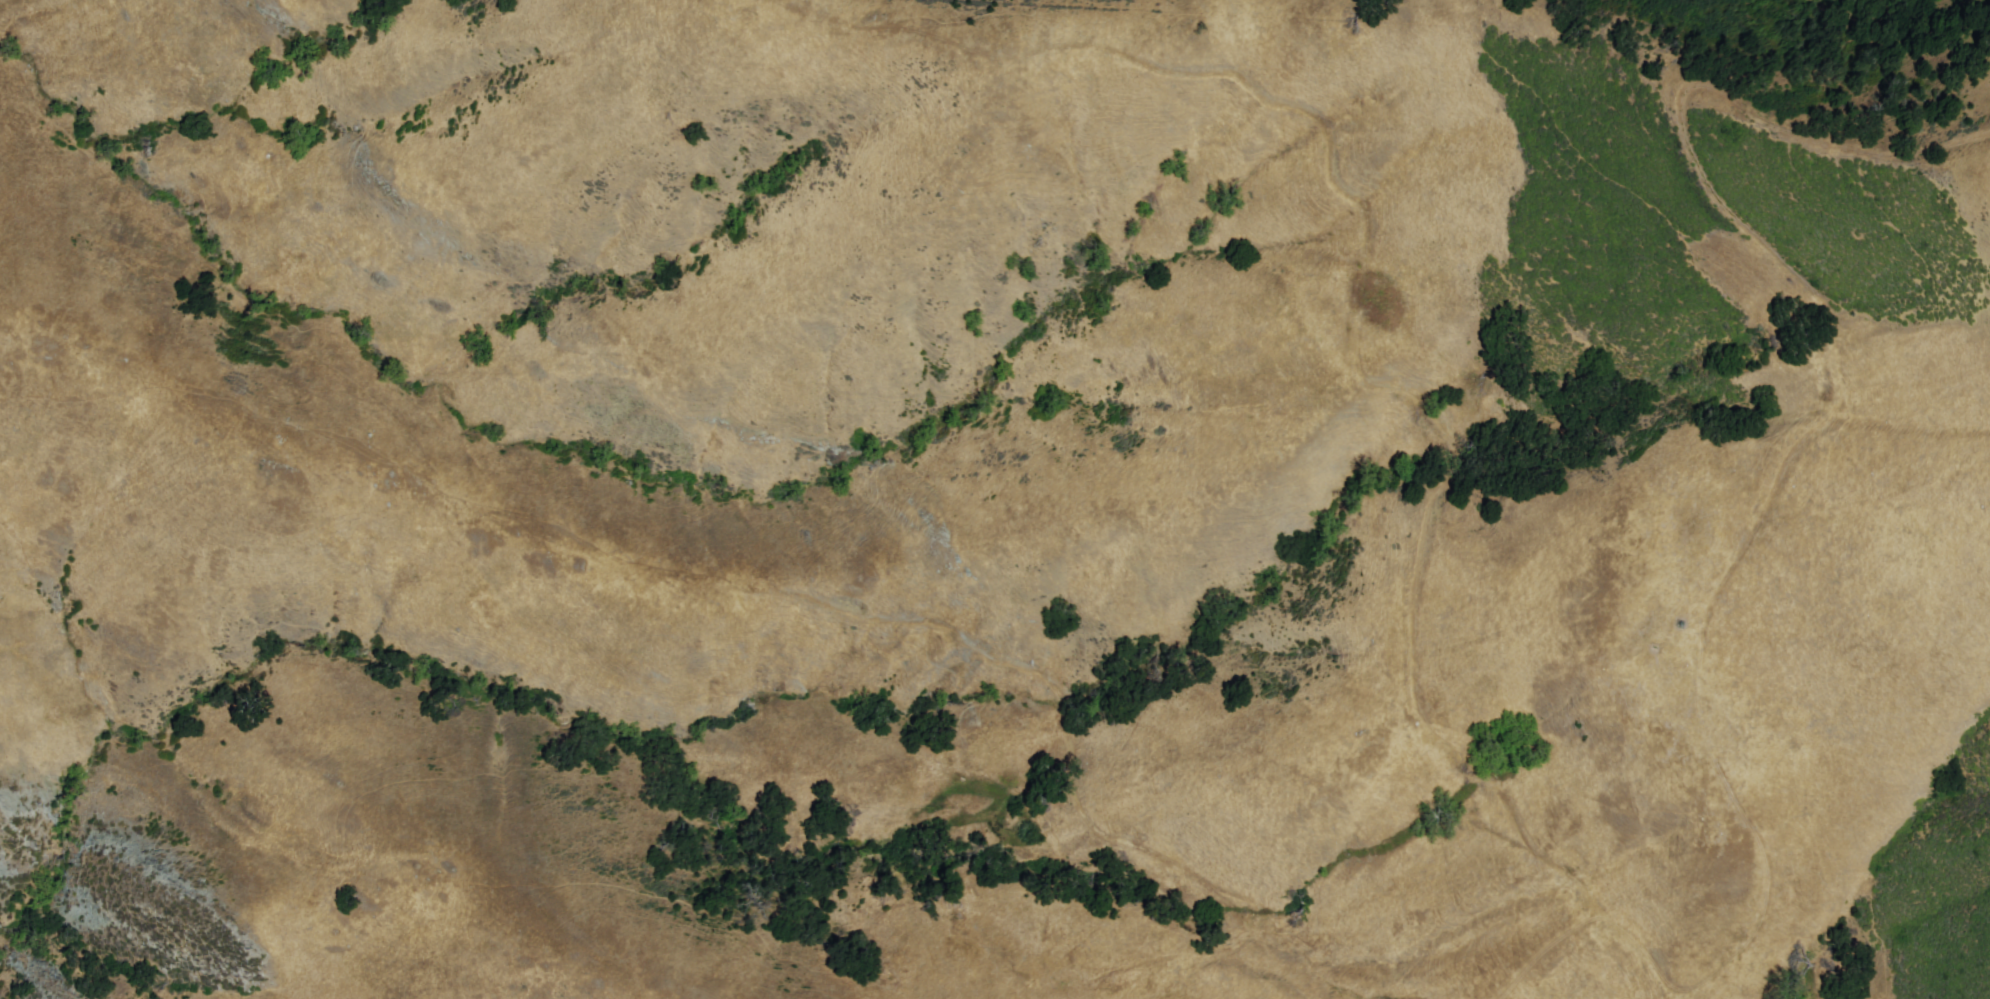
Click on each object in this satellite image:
road: (1355, 323)
road: (1767, 492)

